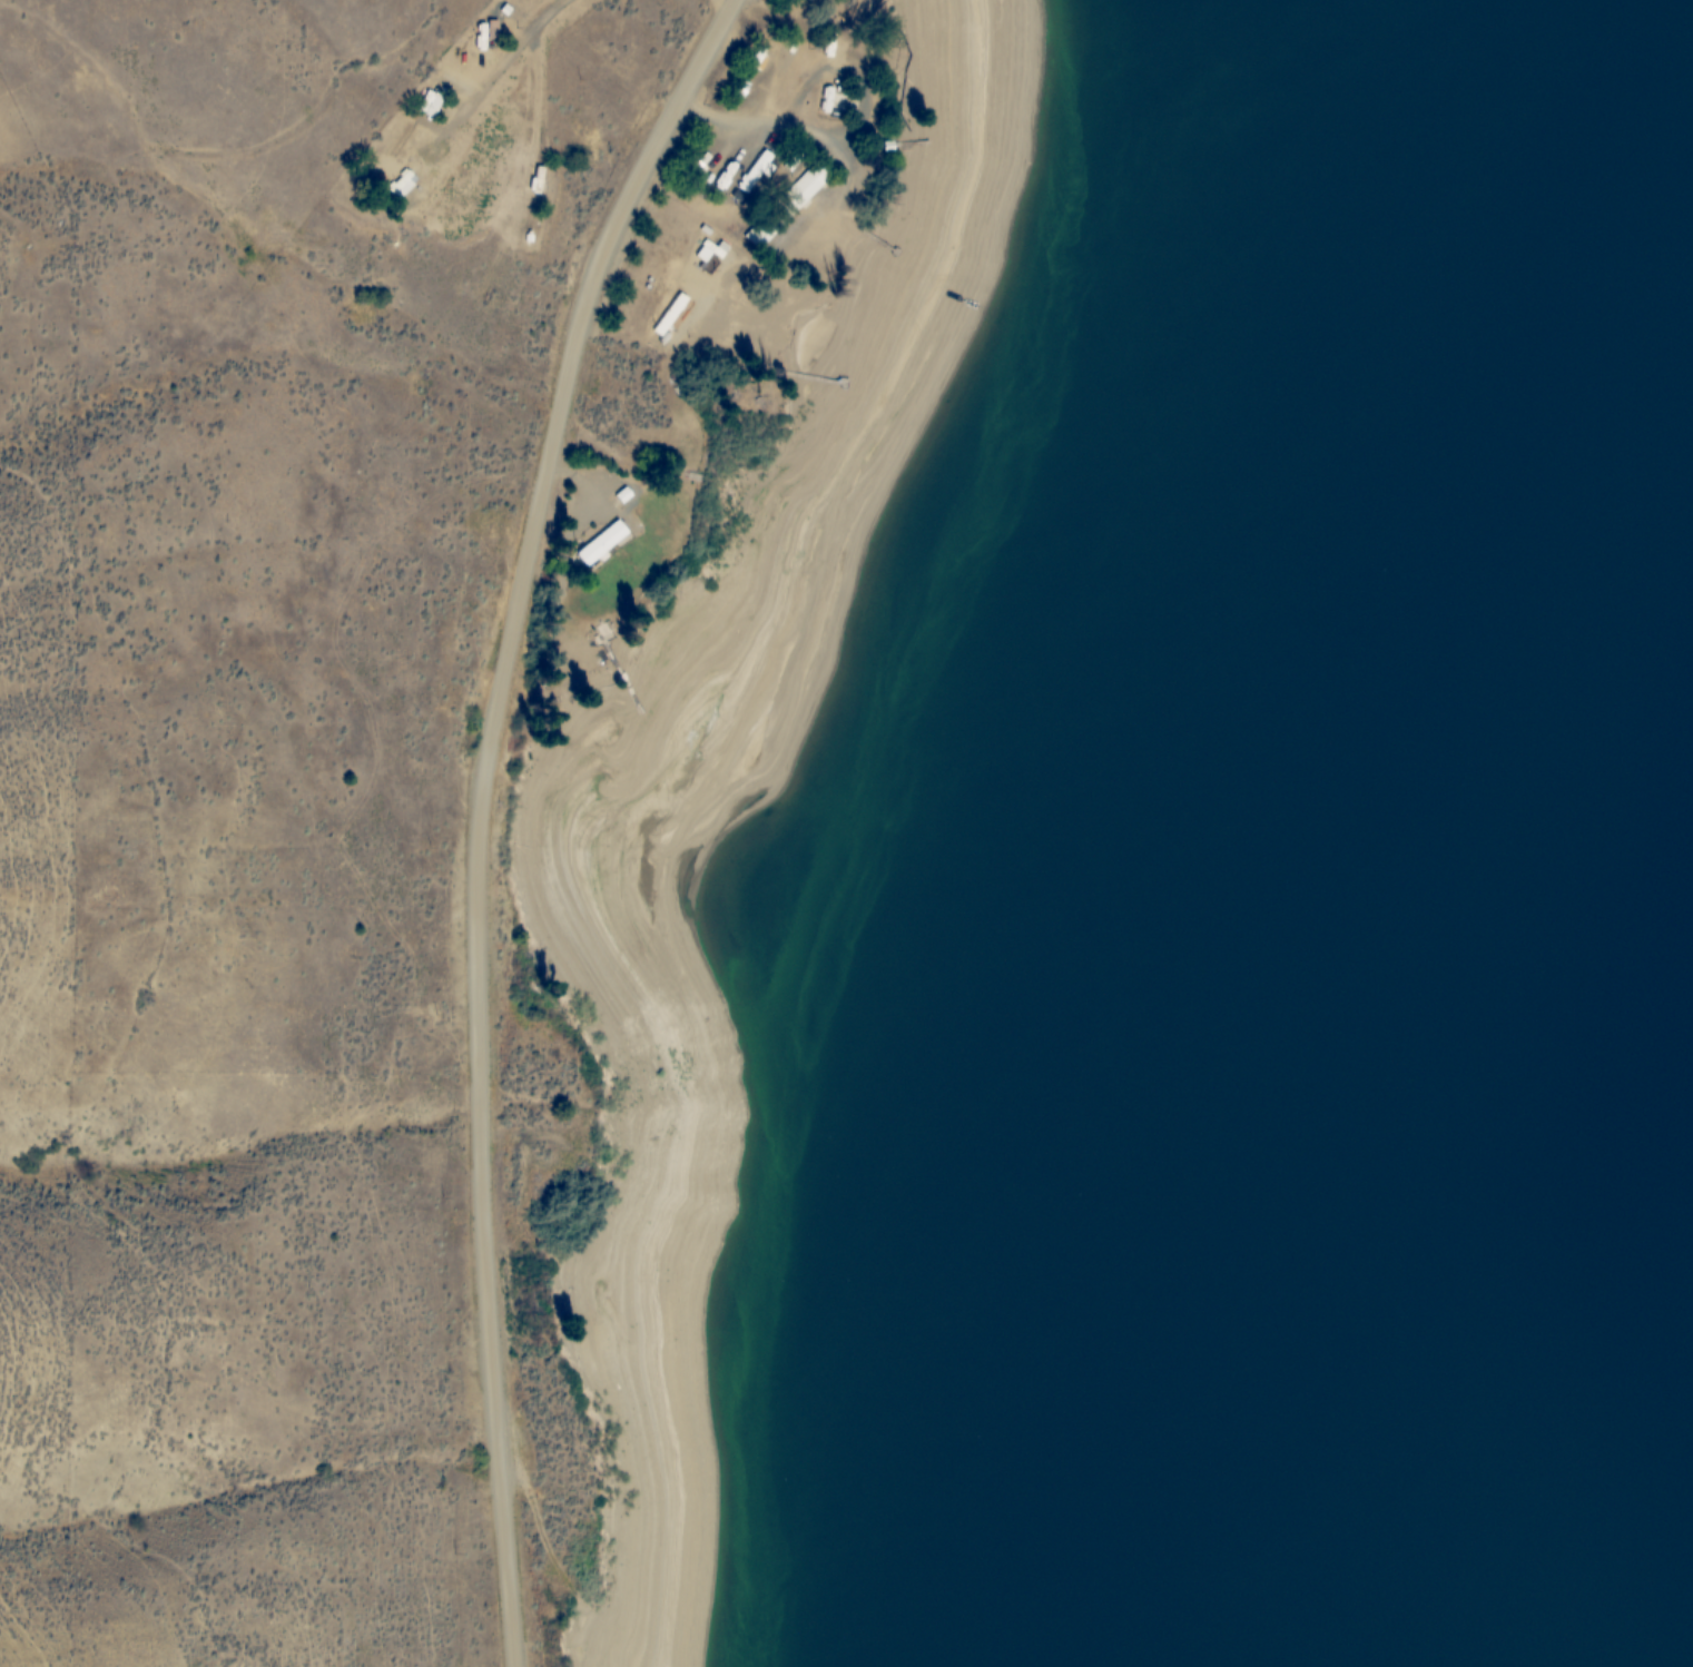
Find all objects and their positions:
road: (727, 3)
building: (491, 36)
road: (491, 83)
road: (537, 99)
building: (837, 100)
building: (435, 105)
road: (772, 124)
building: (873, 145)
building: (699, 165)
building: (757, 175)
building: (725, 176)
building: (405, 185)
building: (786, 207)
building: (601, 543)
road: (481, 810)

